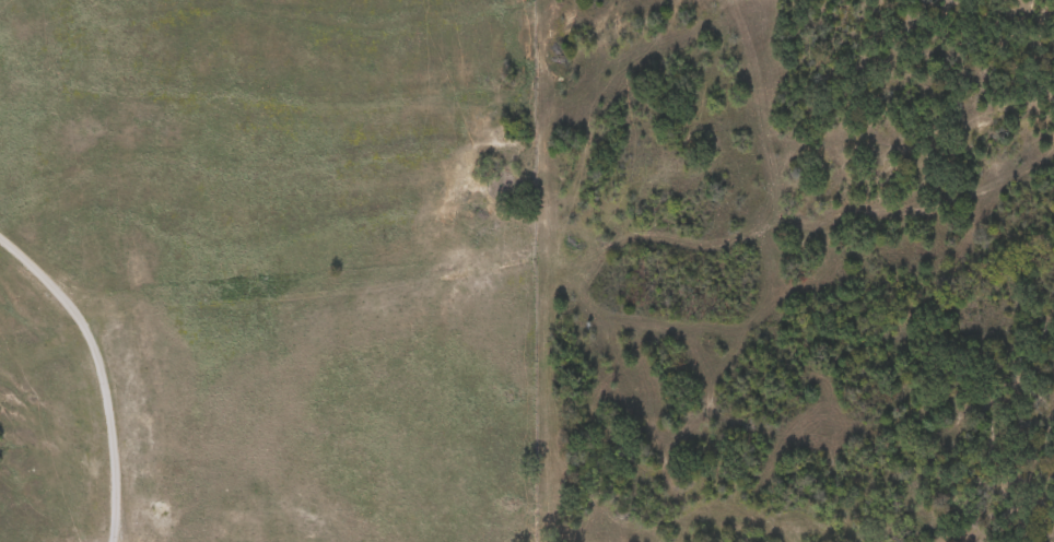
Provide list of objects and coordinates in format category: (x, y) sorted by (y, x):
road: (98, 364)
road: (110, 533)
road: (114, 533)

